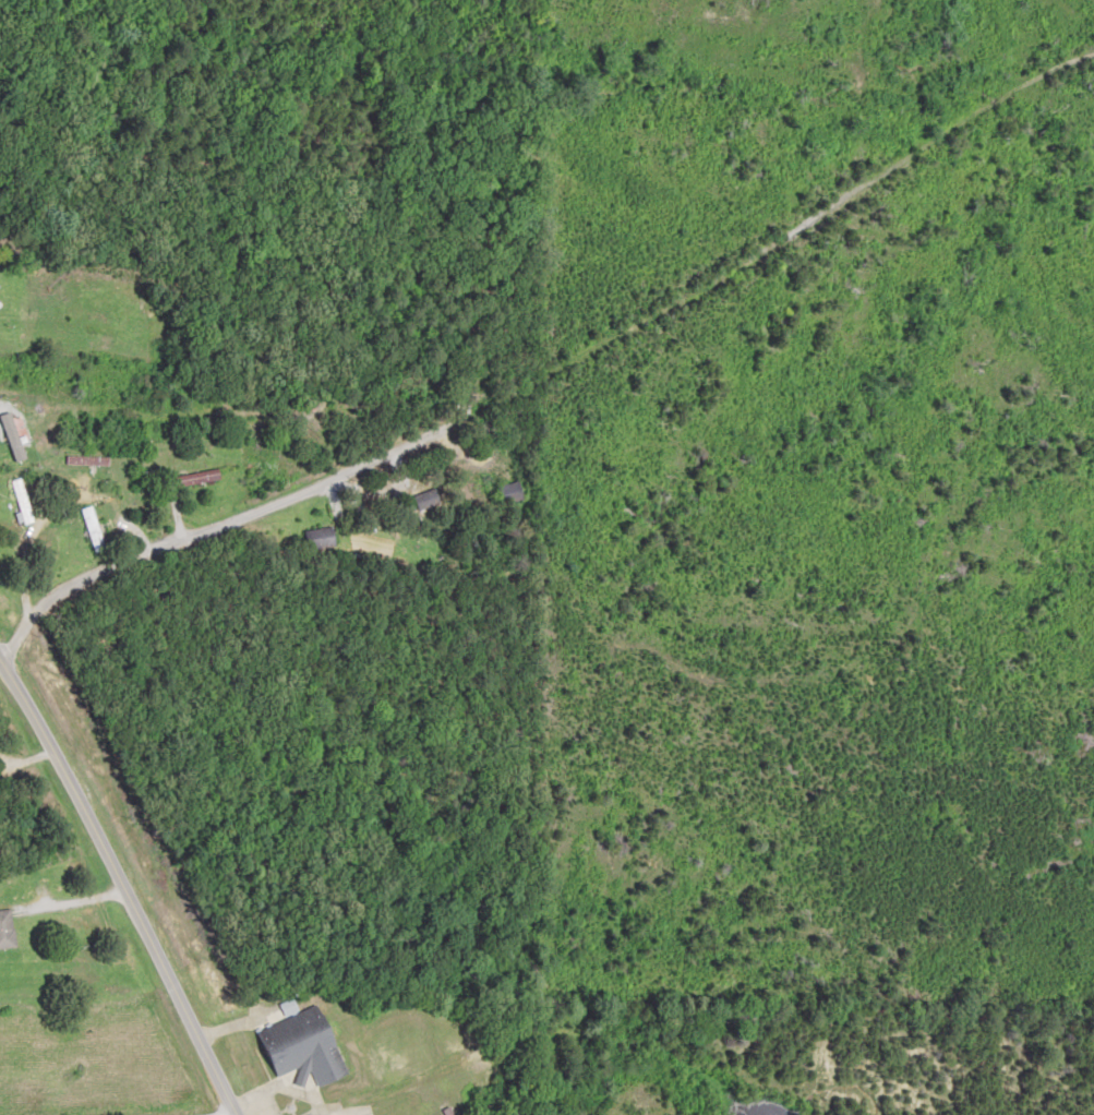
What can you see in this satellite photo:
road: (497, 248)
building: (31, 309)
building: (15, 452)
building: (200, 477)
building: (513, 492)
building: (430, 499)
building: (22, 501)
building: (94, 529)
building: (321, 538)
road: (128, 880)
building: (7, 928)
building: (305, 1046)

